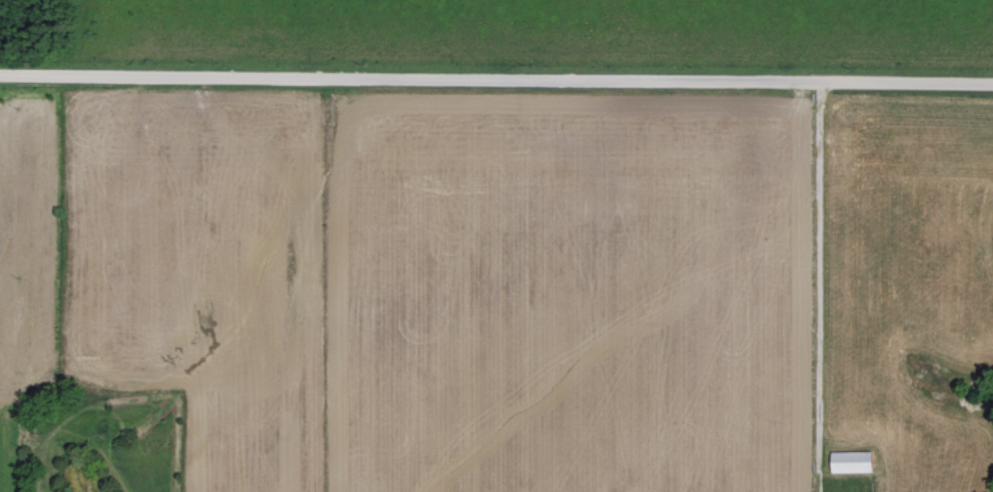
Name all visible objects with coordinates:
road: (496, 80)
building: (855, 461)

